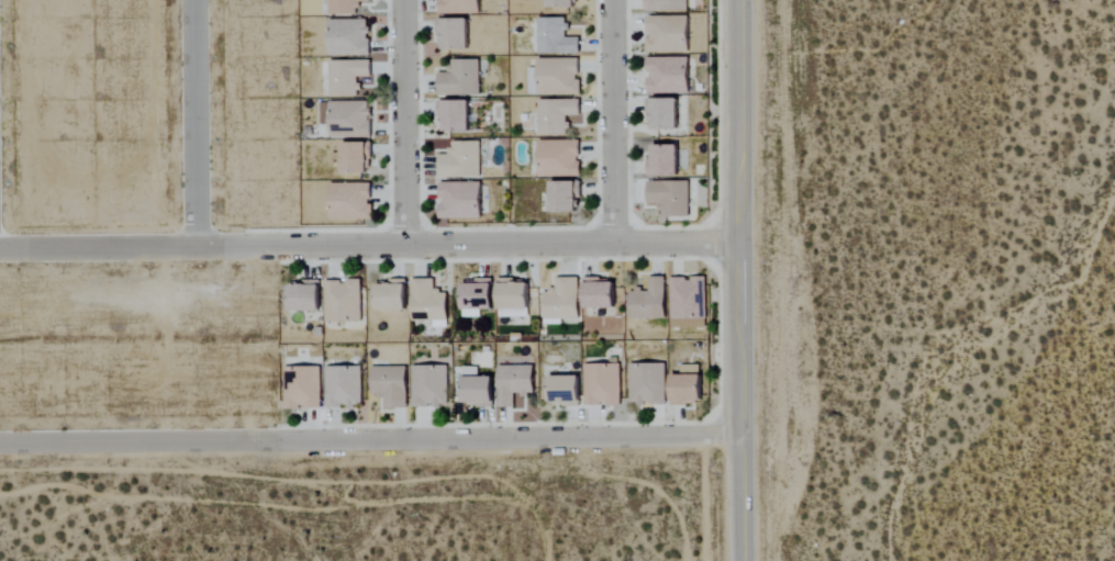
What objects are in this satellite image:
building: (561, 3)
building: (666, 5)
building: (344, 7)
building: (458, 7)
building: (451, 33)
building: (666, 34)
building: (347, 36)
building: (555, 37)
building: (557, 76)
building: (667, 76)
building: (348, 77)
building: (459, 78)
building: (661, 113)
building: (454, 115)
building: (555, 115)
building: (345, 119)
road: (402, 122)
road: (611, 122)
road: (191, 123)
building: (352, 158)
building: (558, 158)
building: (460, 160)
building: (662, 160)
building: (562, 197)
building: (669, 198)
building: (459, 200)
building: (349, 201)
road: (368, 245)
road: (738, 280)
building: (598, 293)
building: (303, 296)
building: (475, 298)
building: (511, 299)
building: (342, 301)
building: (648, 301)
building: (560, 302)
building: (427, 303)
building: (687, 303)
building: (457, 382)
building: (601, 384)
building: (647, 384)
building: (389, 385)
building: (514, 385)
building: (685, 385)
building: (343, 386)
building: (428, 386)
building: (302, 388)
building: (476, 389)
building: (562, 390)
road: (370, 439)

